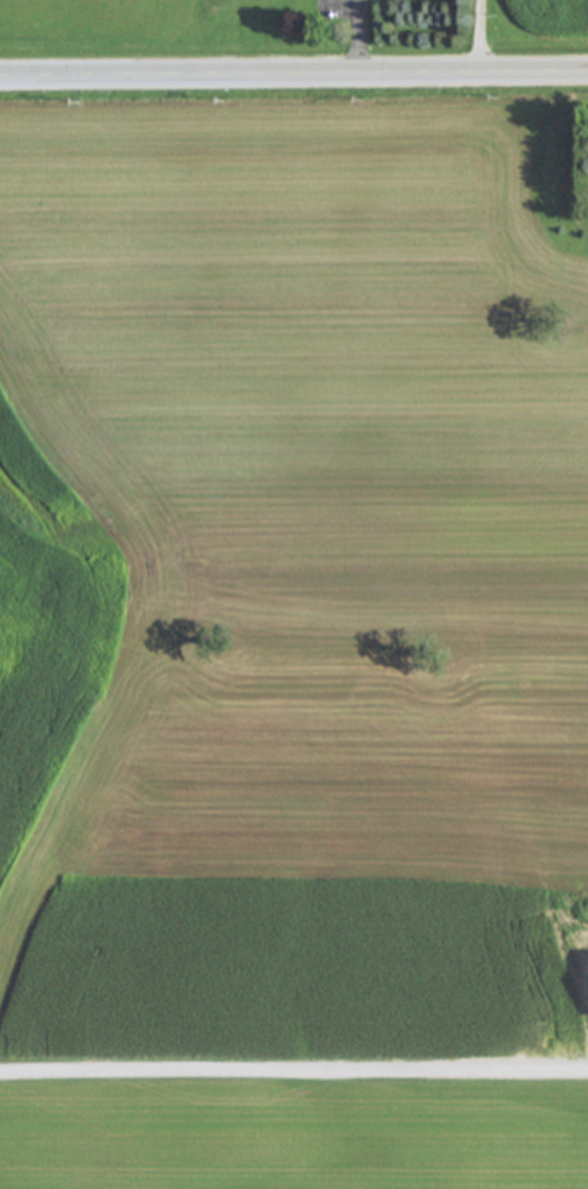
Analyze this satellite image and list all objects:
road: (479, 38)
road: (293, 76)
road: (293, 1069)

